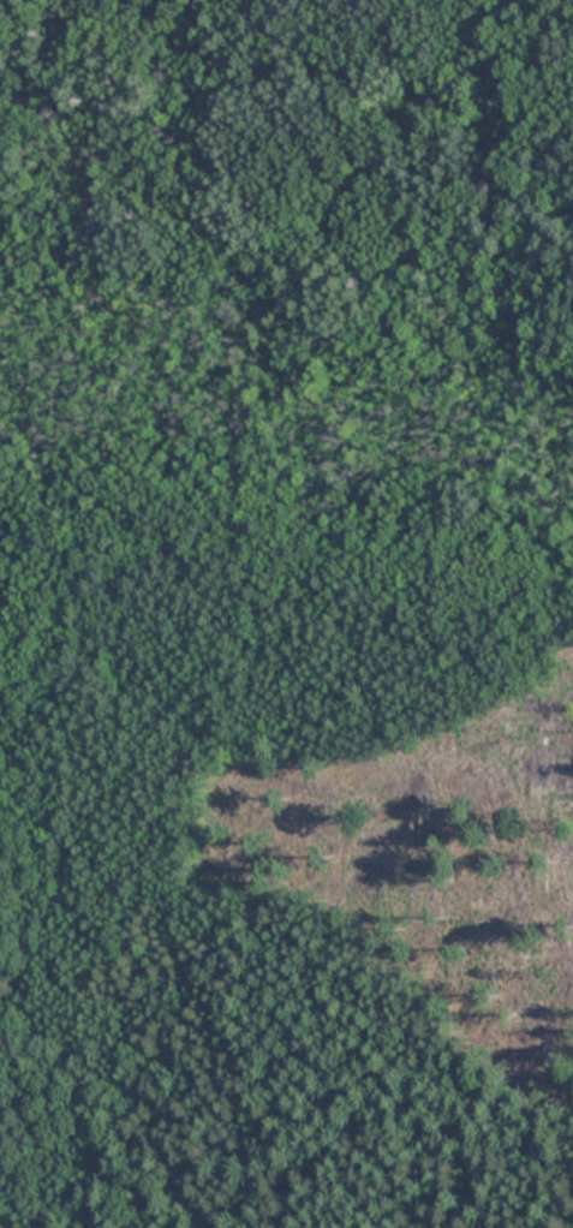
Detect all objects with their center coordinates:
park: (286, 614)

